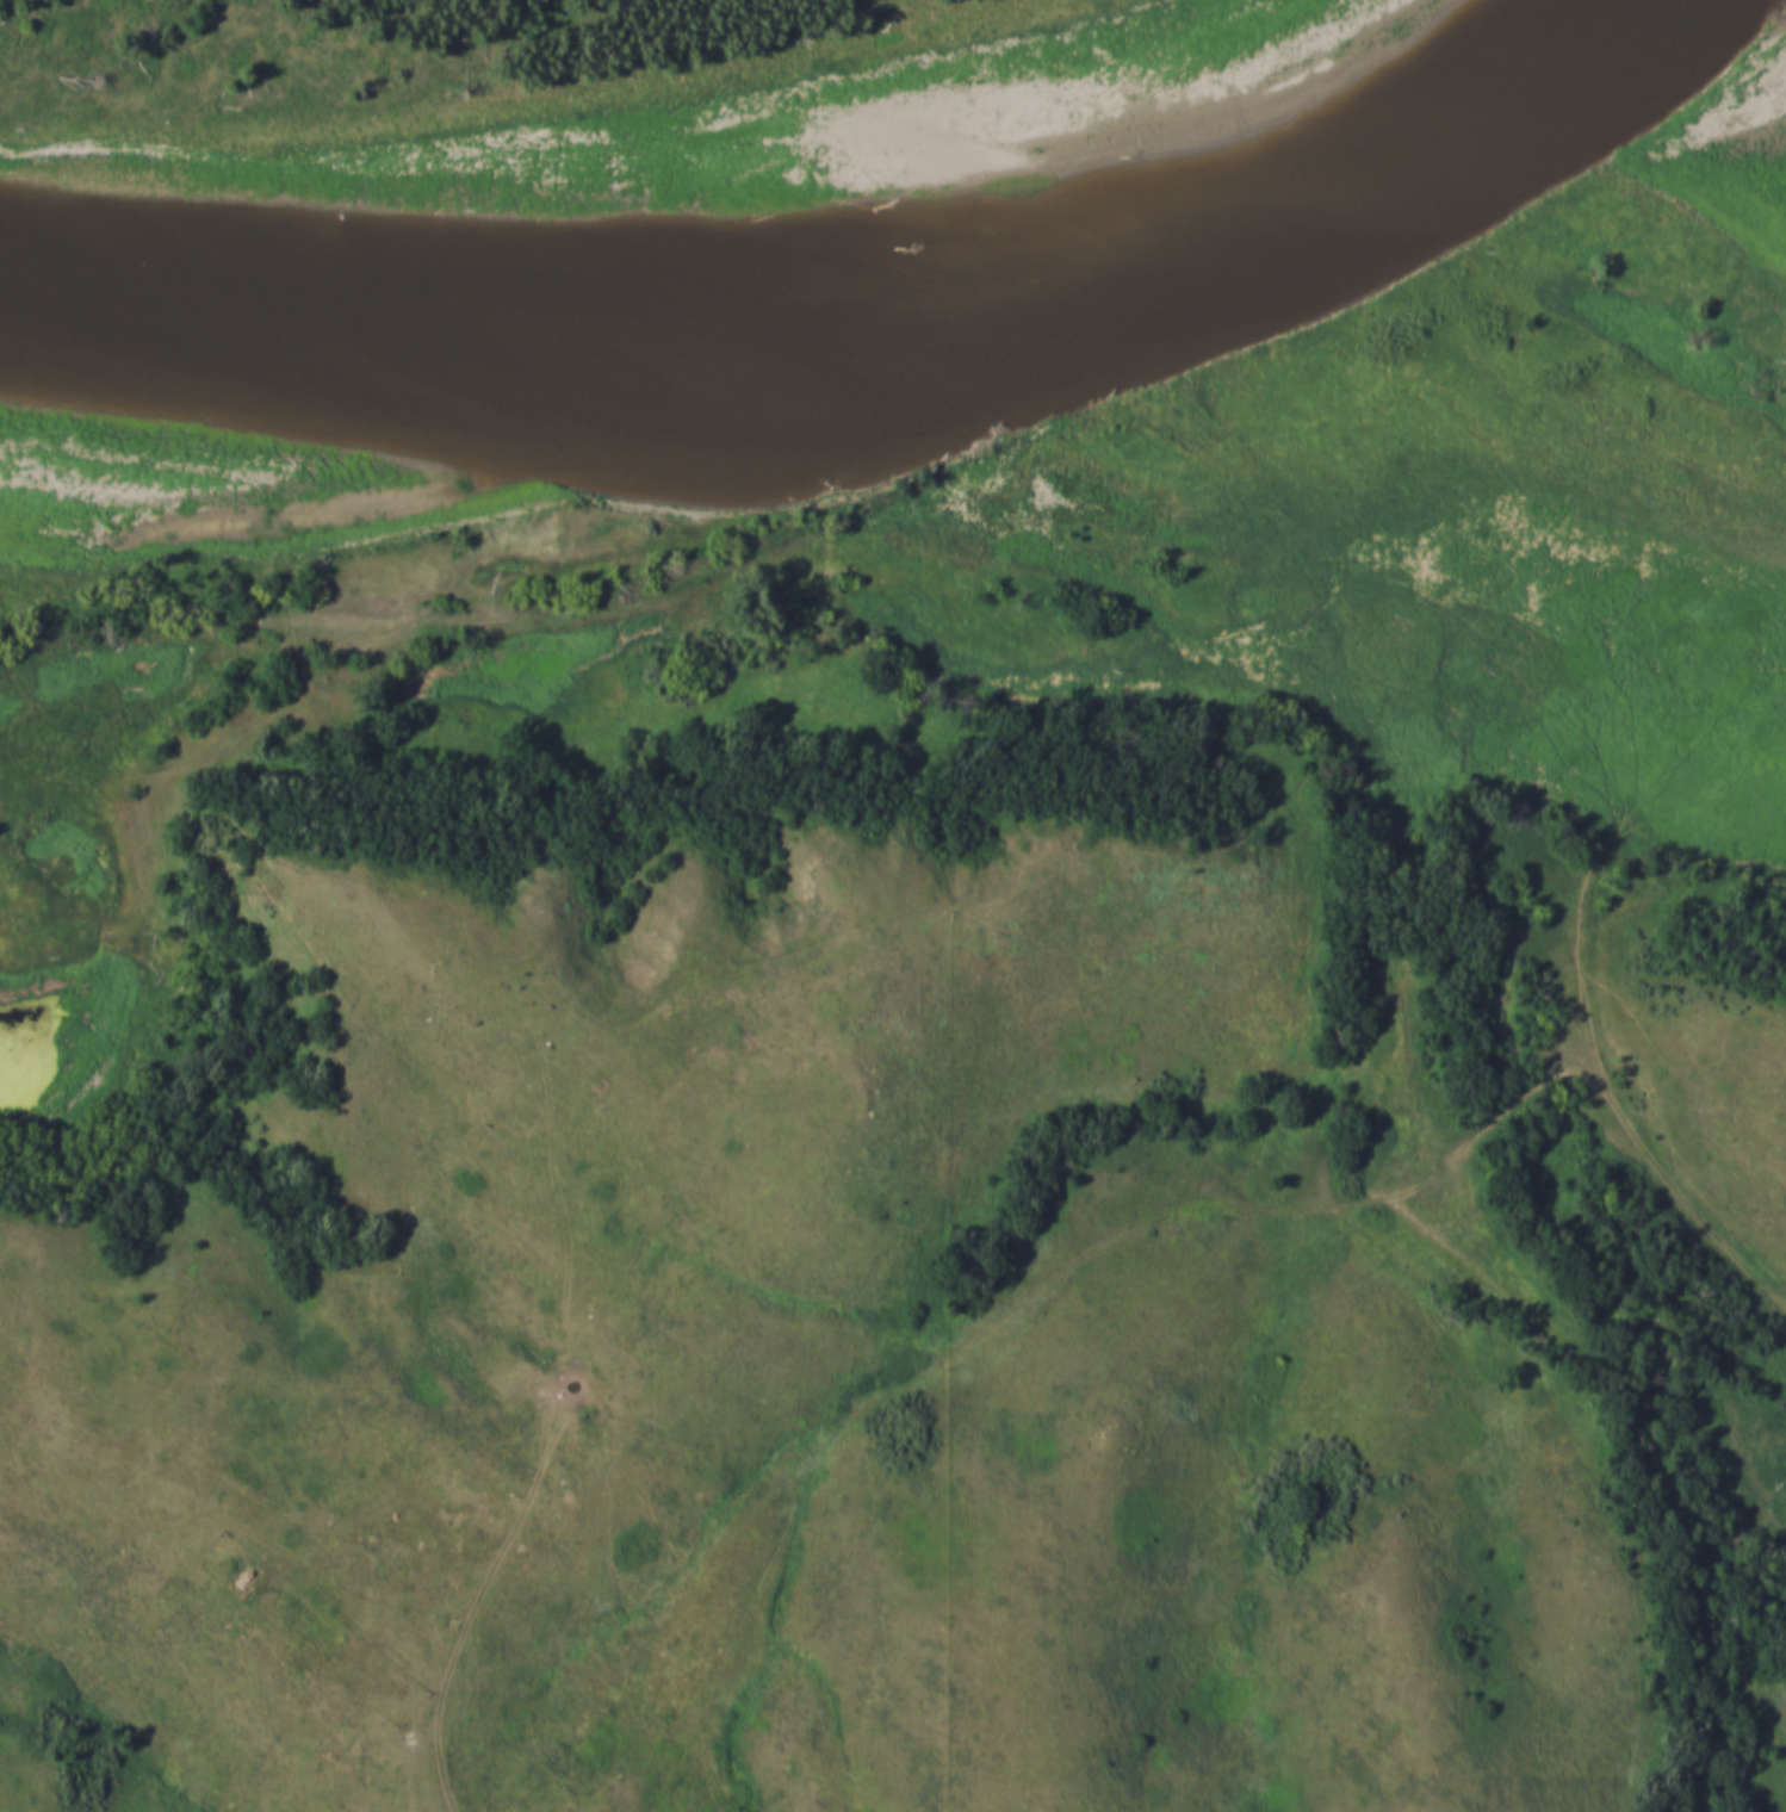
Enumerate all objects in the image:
river: (823, 312)

